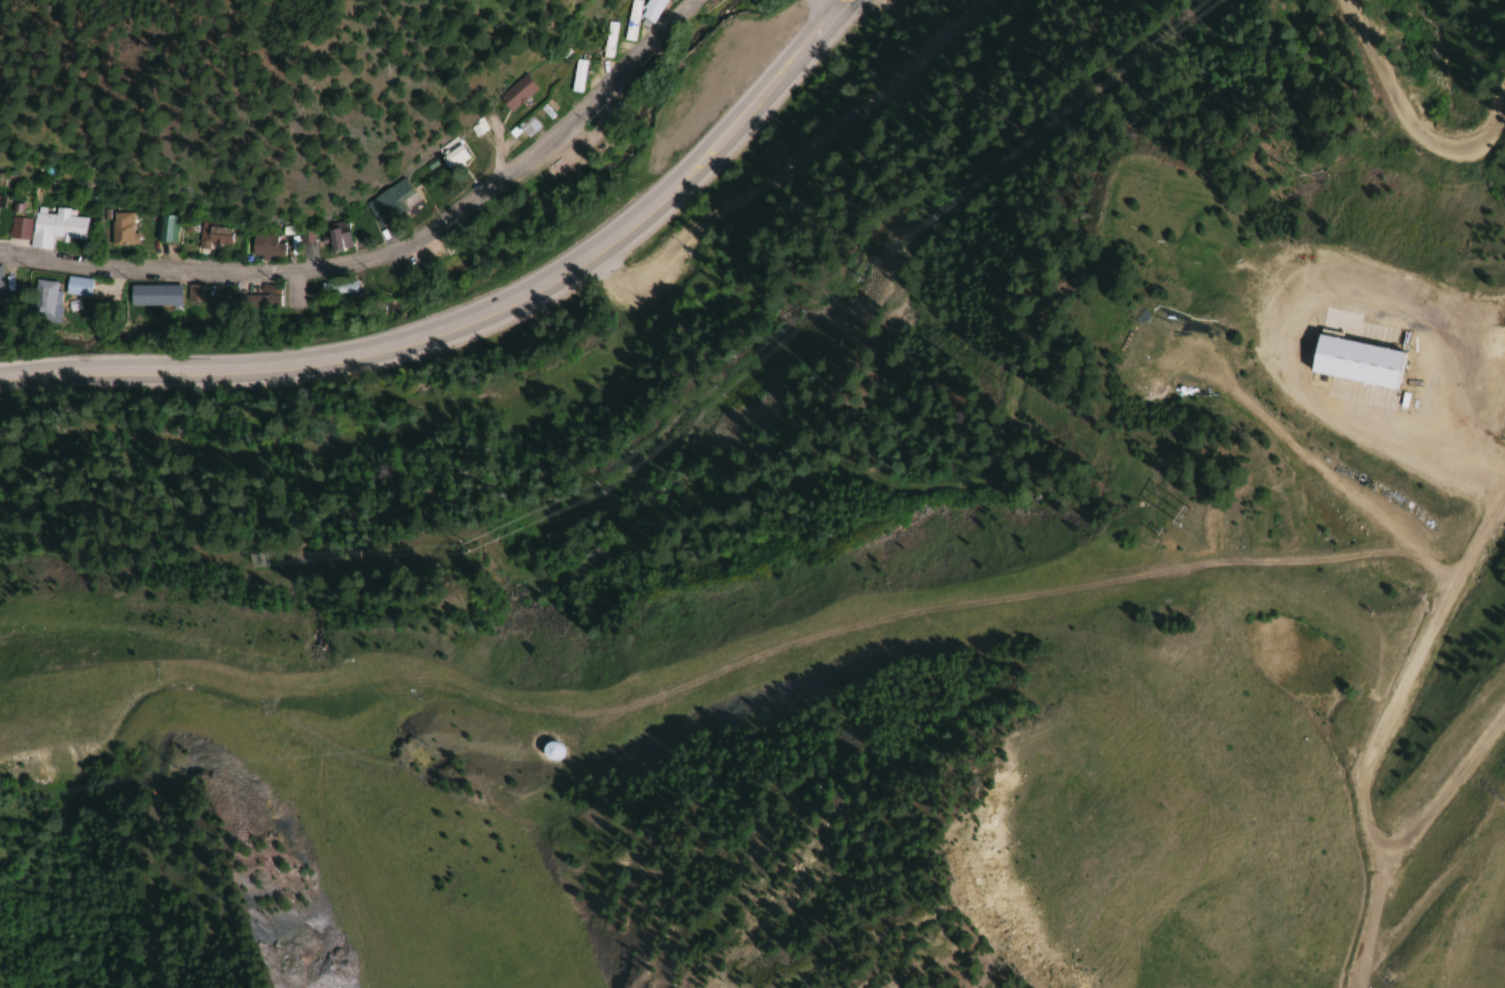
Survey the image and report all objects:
building: (649, 9)
road: (834, 10)
building: (629, 19)
building: (607, 38)
road: (631, 56)
building: (576, 75)
building: (514, 91)
building: (475, 126)
building: (522, 129)
building: (448, 152)
building: (389, 202)
building: (46, 227)
building: (165, 227)
building: (121, 229)
building: (212, 235)
building: (336, 236)
building: (264, 246)
road: (310, 273)
building: (1, 283)
building: (77, 285)
building: (337, 287)
building: (150, 294)
building: (195, 298)
building: (42, 299)
road: (487, 320)
building: (1353, 361)
building: (550, 750)
quarry: (1449, 902)

